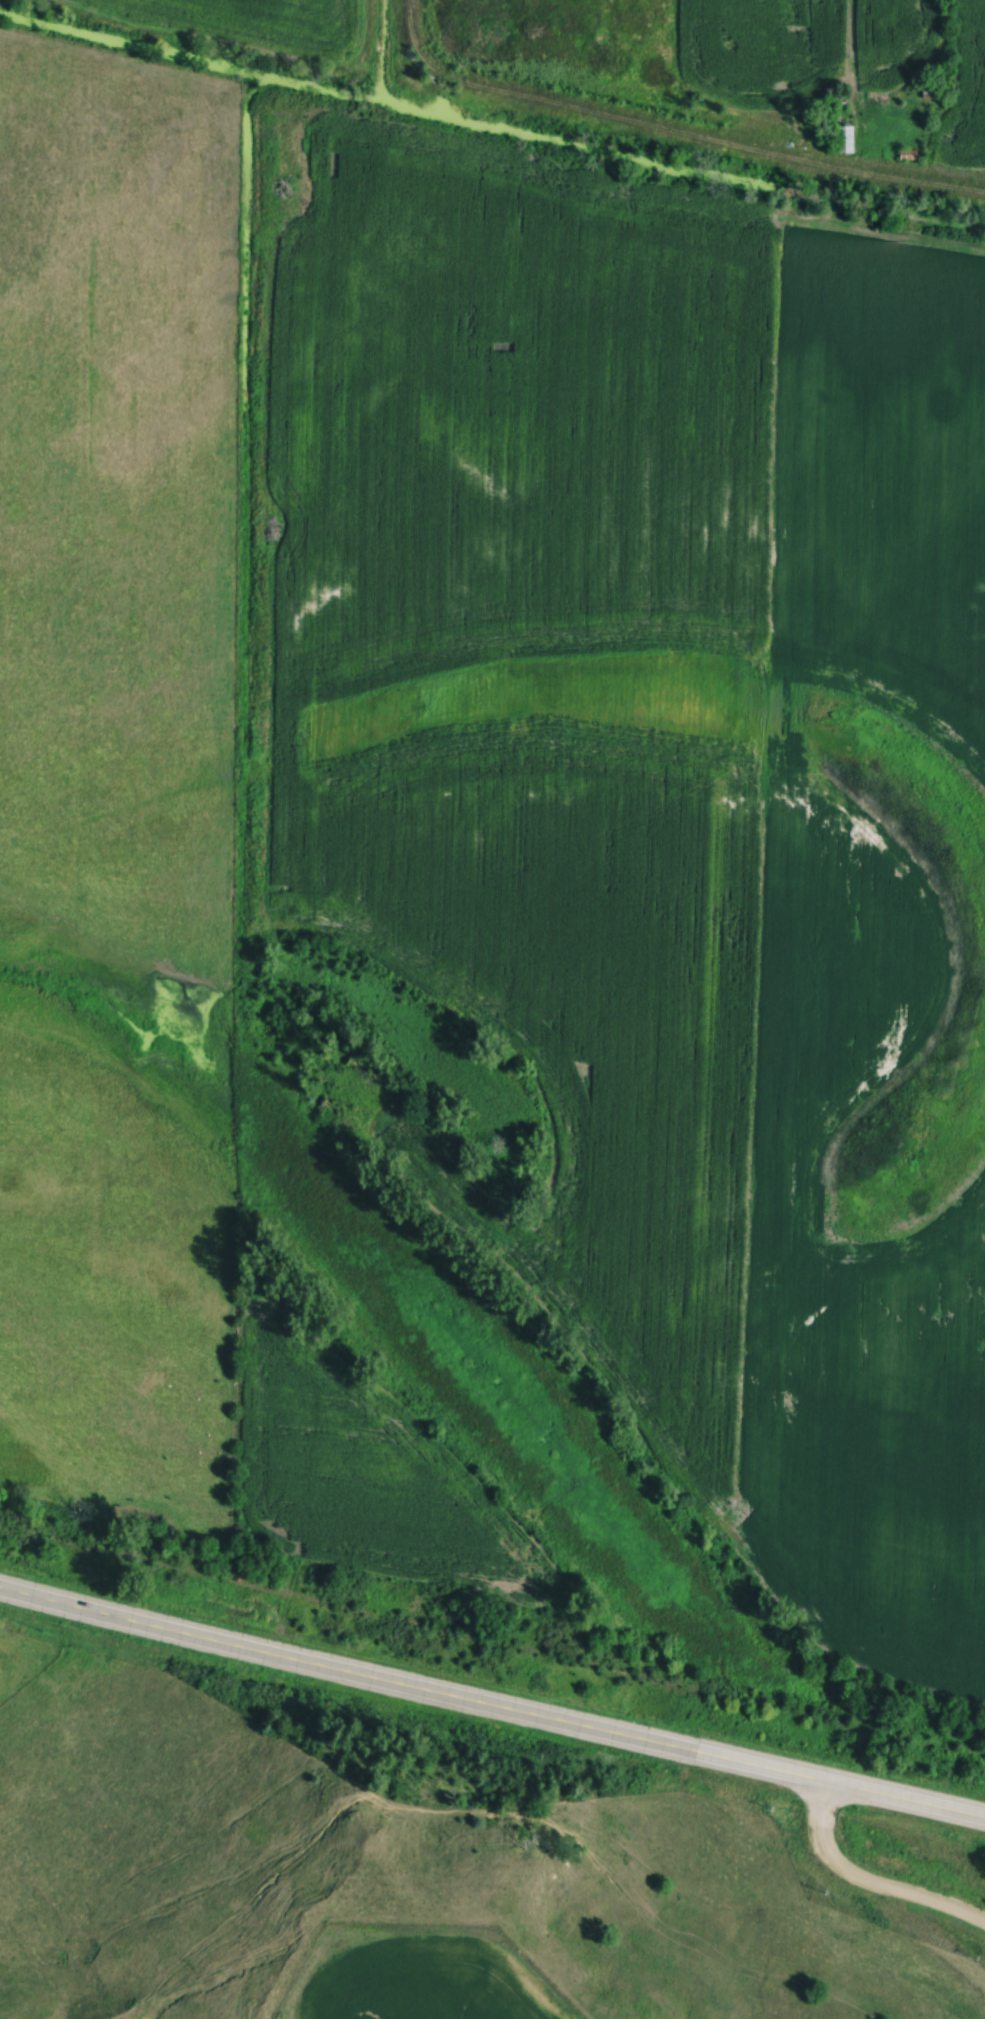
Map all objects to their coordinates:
road: (343, 1670)
road: (837, 1781)
road: (868, 1877)

